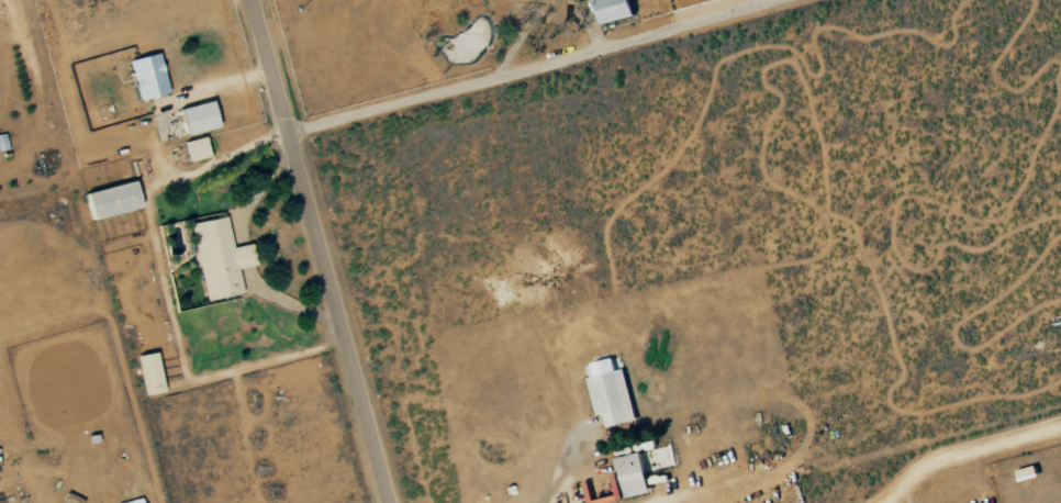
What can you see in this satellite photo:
building: (557, 9)
building: (614, 10)
road: (535, 69)
building: (148, 76)
building: (198, 118)
building: (197, 149)
building: (112, 200)
road: (316, 250)
building: (219, 258)
building: (149, 373)
building: (611, 393)
road: (560, 458)
building: (1028, 473)
building: (632, 477)
building: (134, 501)

